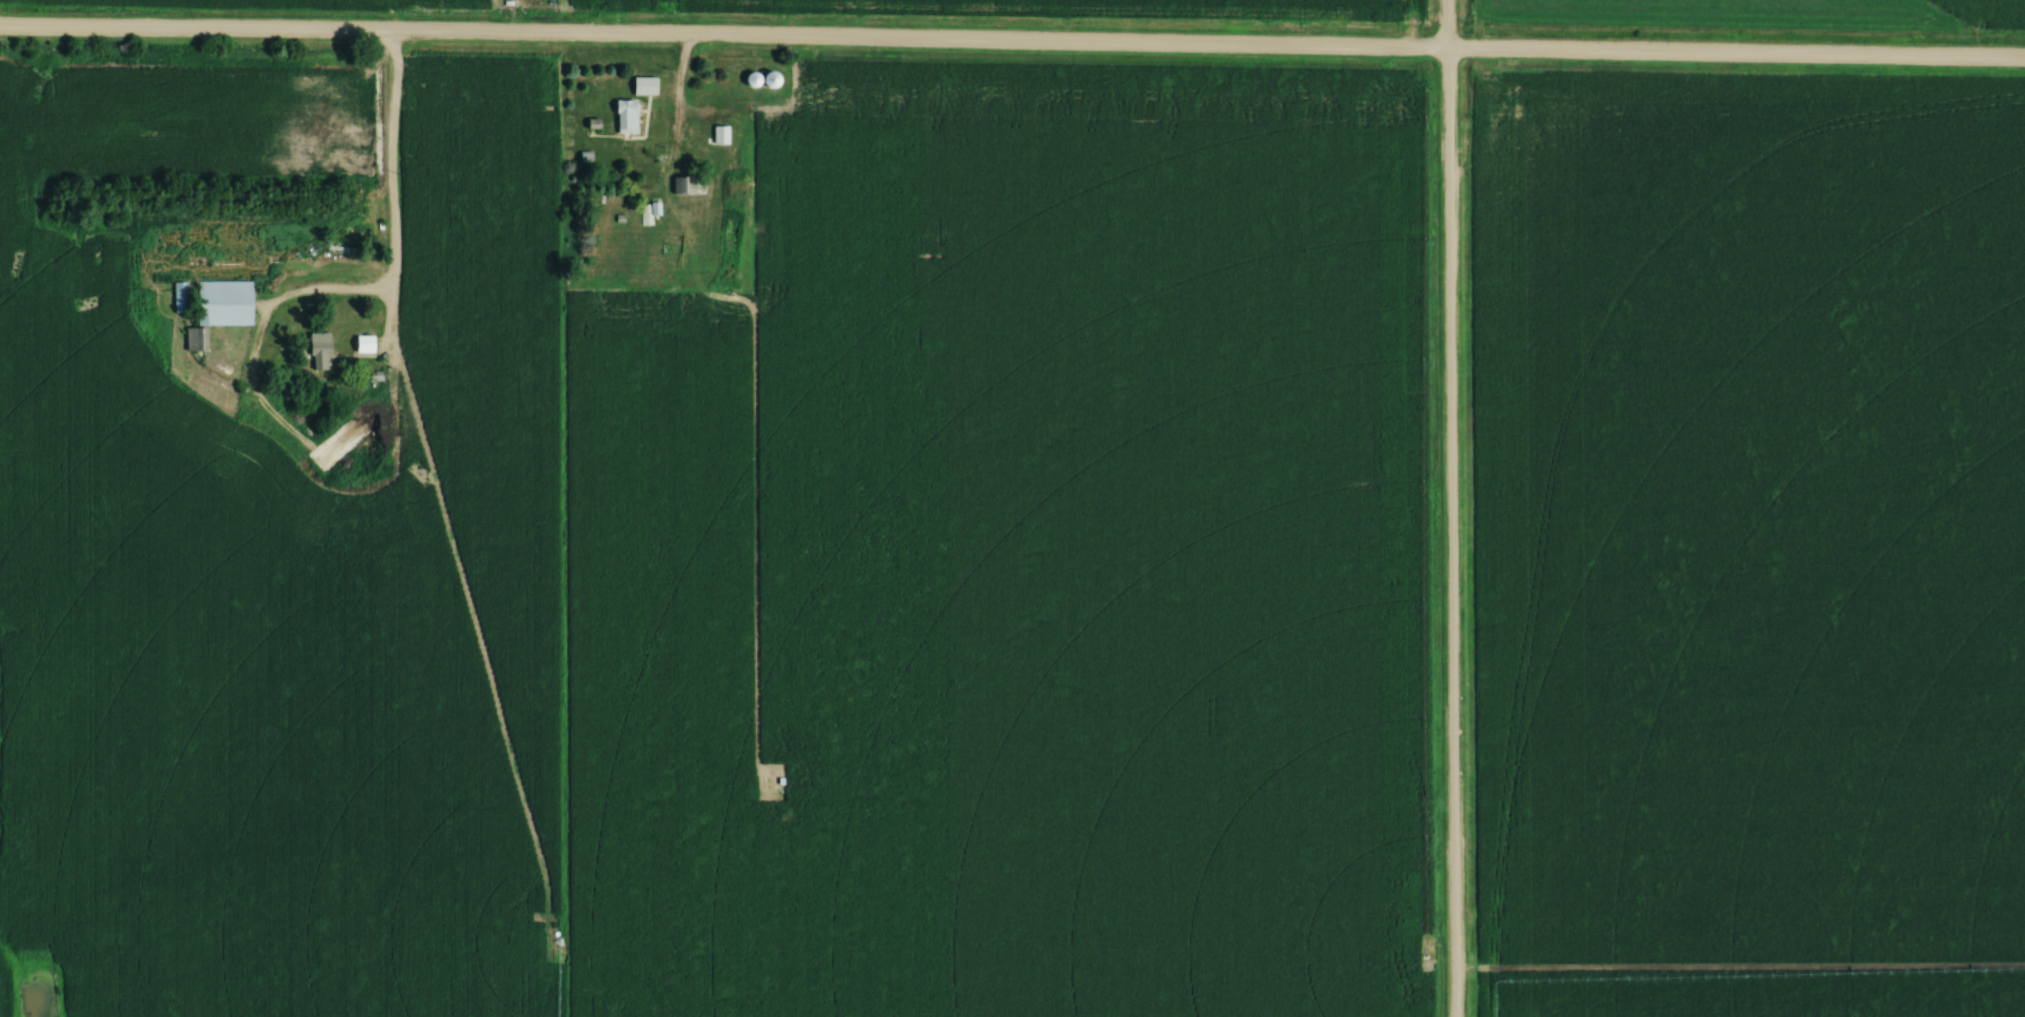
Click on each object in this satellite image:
road: (1012, 48)
building: (769, 80)
building: (643, 86)
building: (625, 116)
building: (718, 135)
building: (677, 185)
road: (386, 200)
building: (179, 298)
building: (223, 303)
building: (192, 339)
building: (363, 345)
building: (319, 352)
road: (1446, 508)

